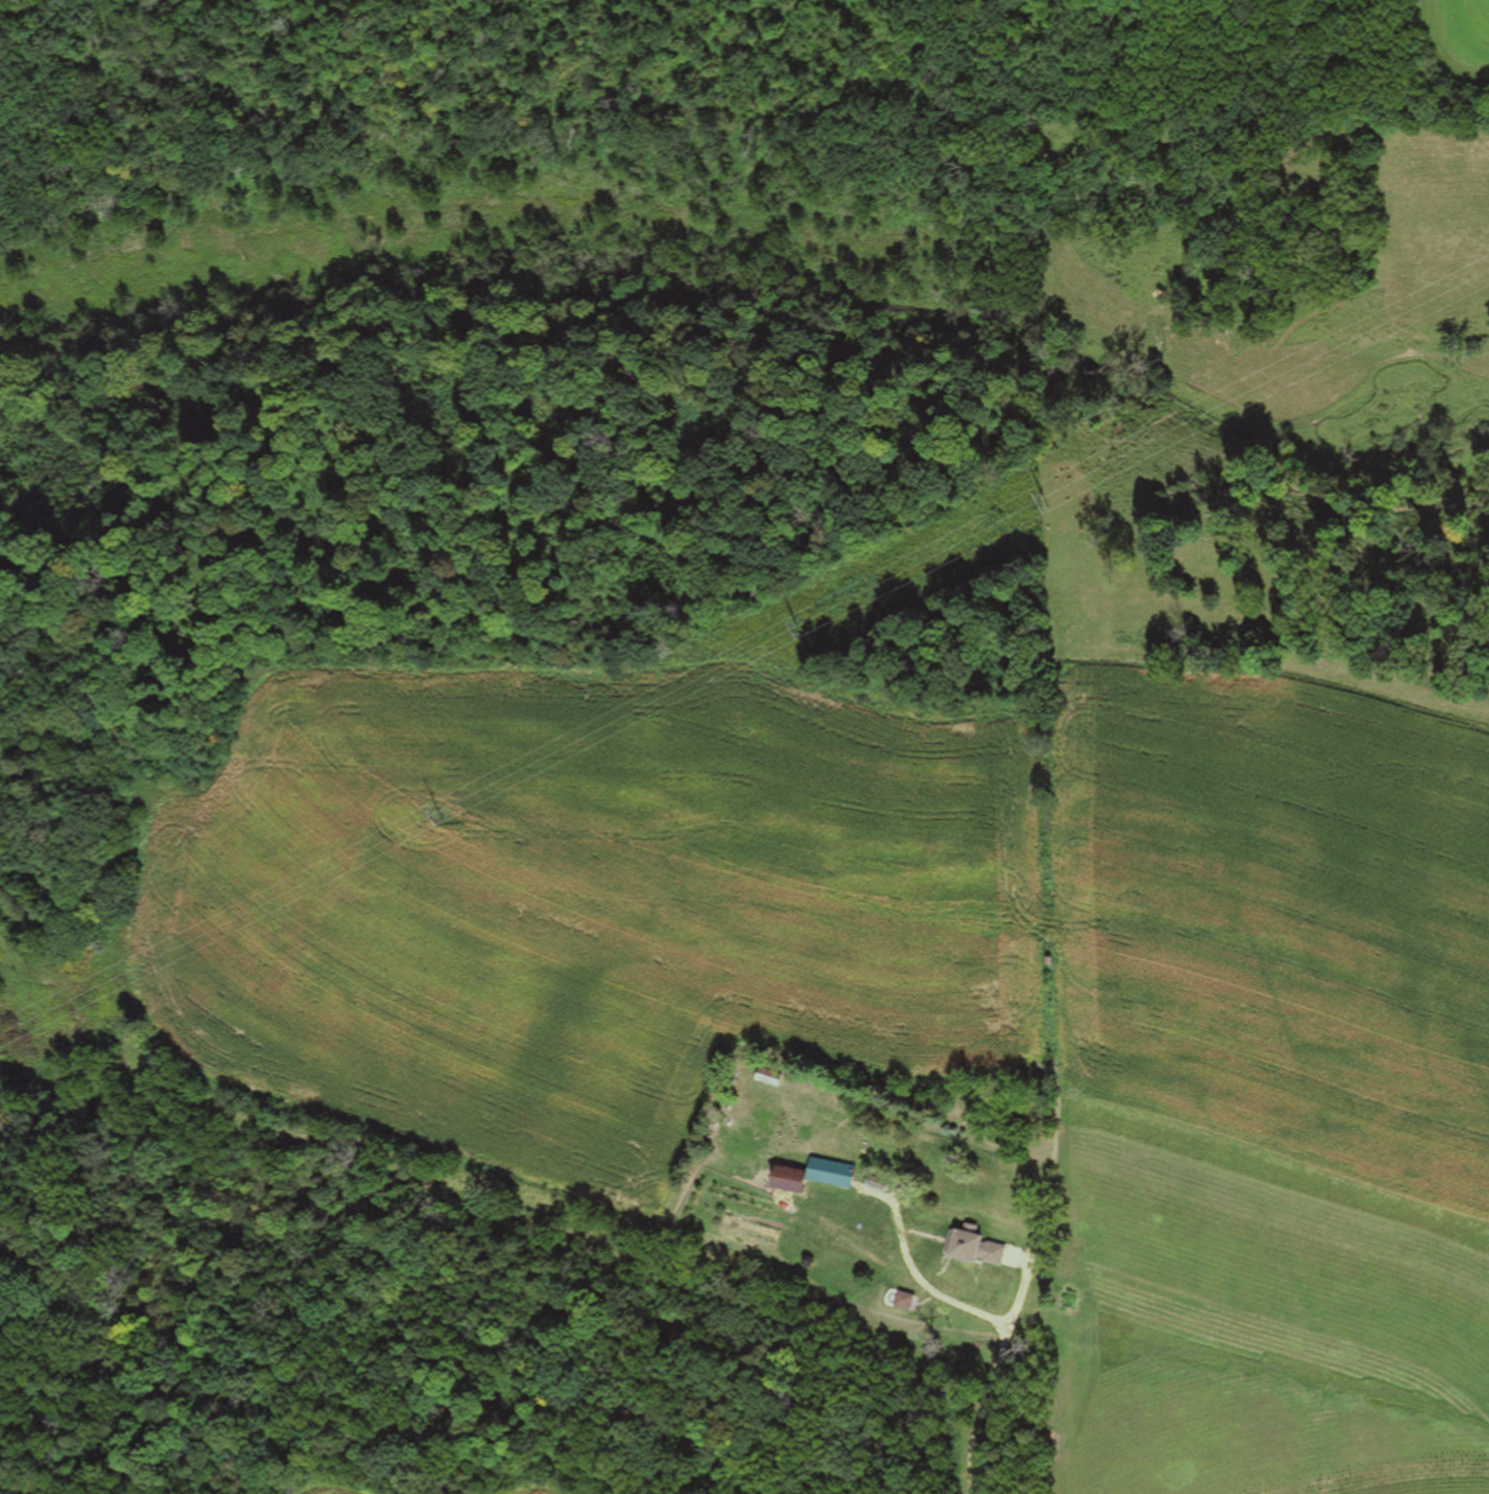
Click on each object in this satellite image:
power tower: (1046, 500)
power tower: (799, 627)
power tower: (437, 814)
building: (810, 1176)
building: (972, 1249)
road: (1001, 1414)

